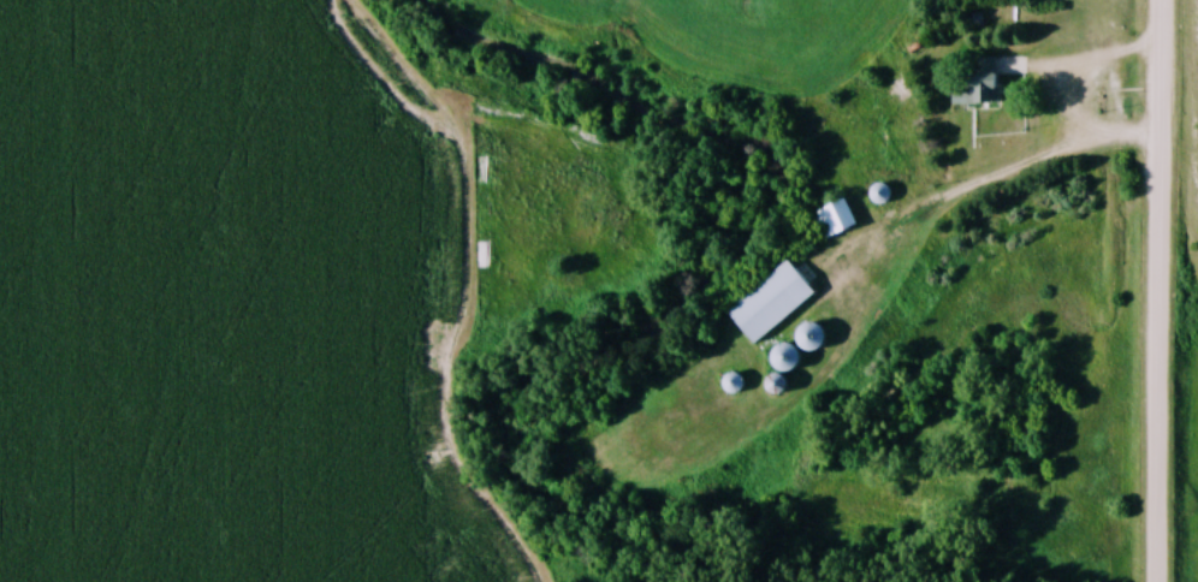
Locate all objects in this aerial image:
building: (972, 90)
road: (1072, 111)
building: (831, 219)
road: (1164, 290)
building: (760, 303)
building: (784, 362)
building: (734, 382)

